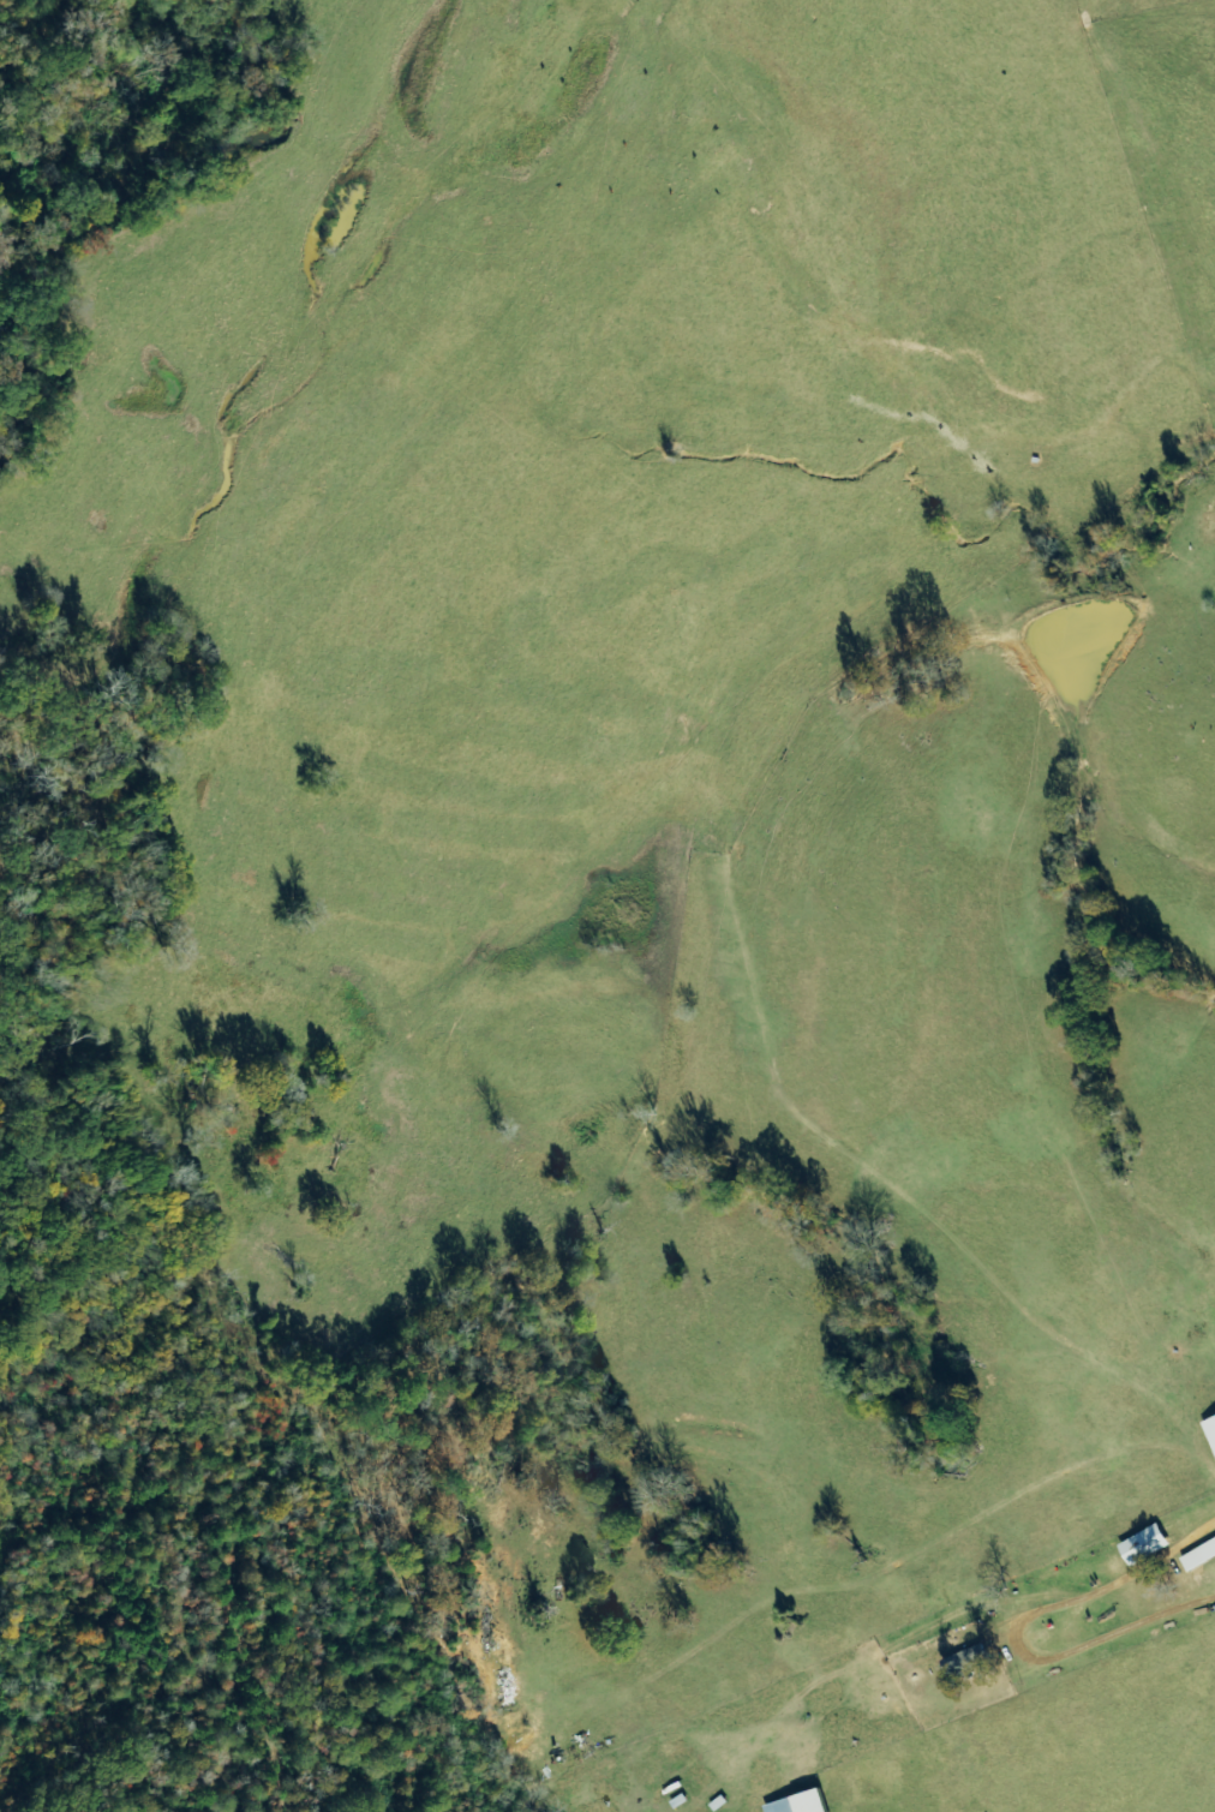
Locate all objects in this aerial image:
building: (1210, 1429)
building: (1145, 1544)
building: (1199, 1555)
building: (965, 1662)
building: (803, 1802)

